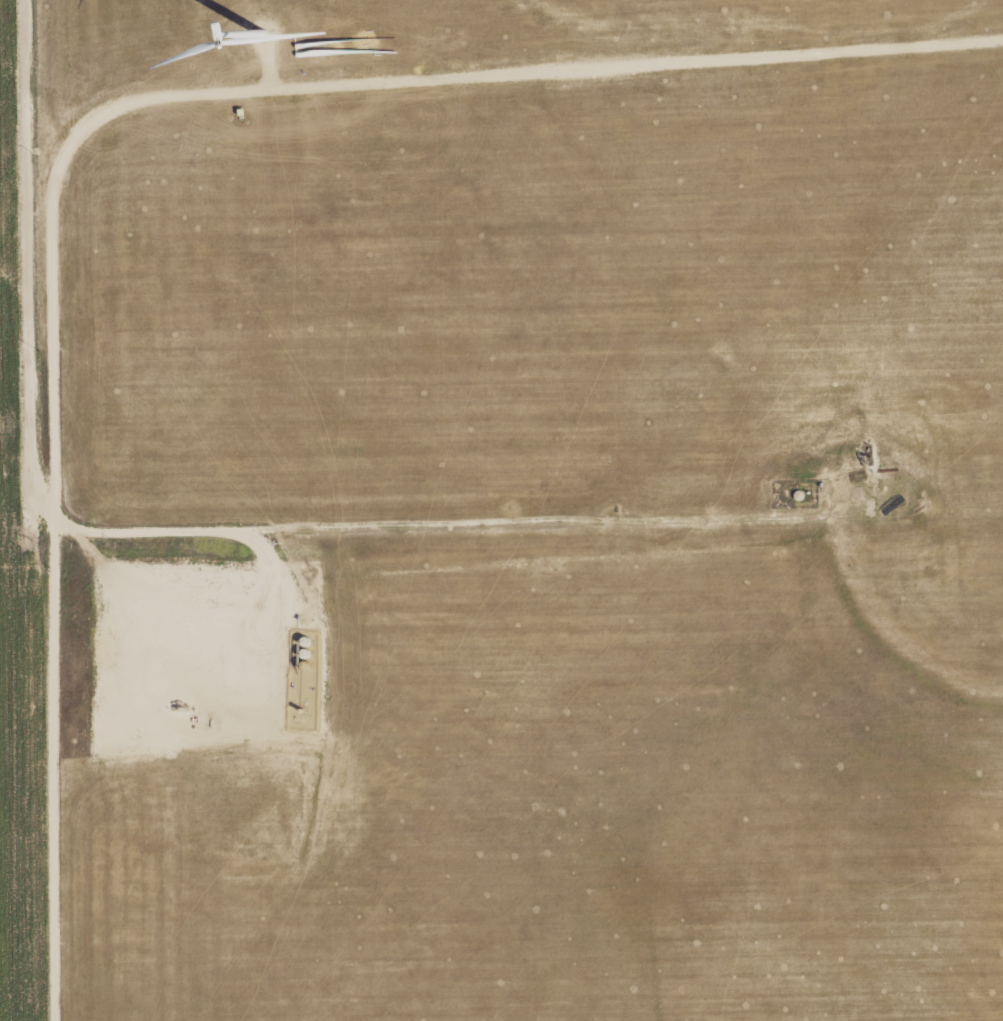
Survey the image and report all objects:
wind turbine: (250, 34)

